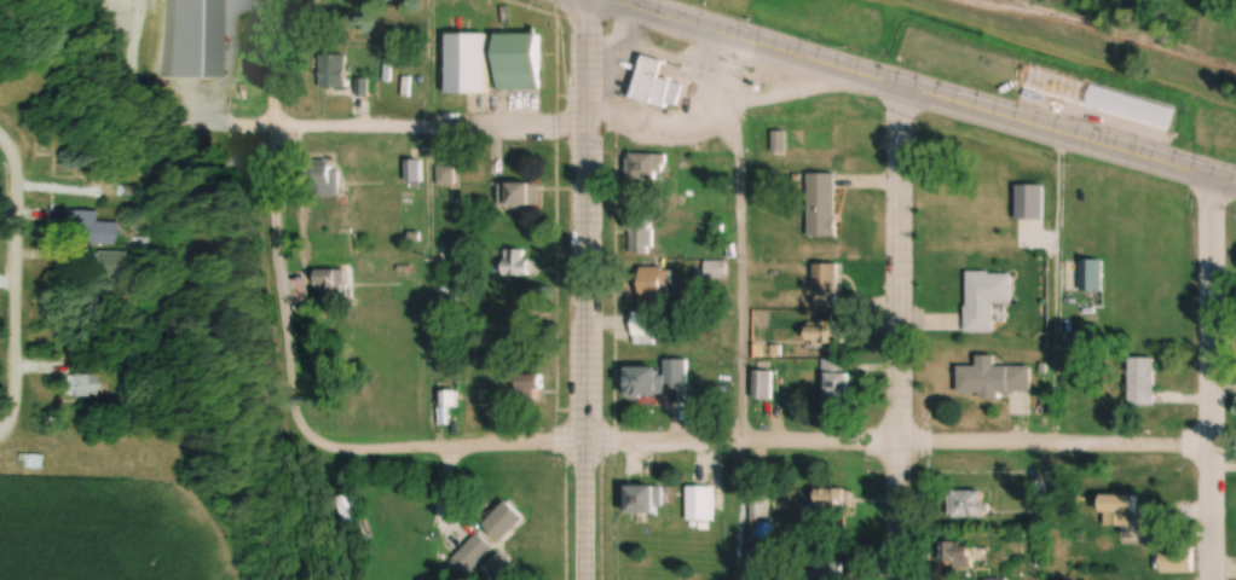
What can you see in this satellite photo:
building: (192, 39)
road: (757, 42)
building: (519, 59)
building: (468, 60)
building: (333, 72)
building: (657, 87)
road: (431, 126)
road: (1068, 133)
road: (663, 135)
road: (6, 158)
building: (647, 168)
building: (450, 179)
building: (323, 181)
building: (520, 196)
building: (822, 207)
road: (277, 215)
road: (428, 225)
building: (88, 230)
building: (641, 236)
building: (102, 265)
building: (518, 265)
building: (716, 271)
building: (1093, 274)
building: (330, 284)
building: (826, 285)
road: (585, 289)
building: (988, 298)
building: (446, 300)
road: (13, 302)
building: (655, 302)
road: (739, 308)
building: (825, 331)
road: (902, 332)
building: (676, 373)
building: (994, 377)
road: (1213, 377)
building: (834, 381)
building: (1143, 381)
building: (643, 384)
building: (82, 388)
road: (749, 440)
building: (645, 498)
building: (832, 499)
building: (700, 503)
building: (968, 504)
building: (1121, 507)
building: (342, 509)
building: (506, 521)
building: (474, 552)
building: (959, 553)
building: (836, 570)
road: (1174, 573)
building: (995, 579)

